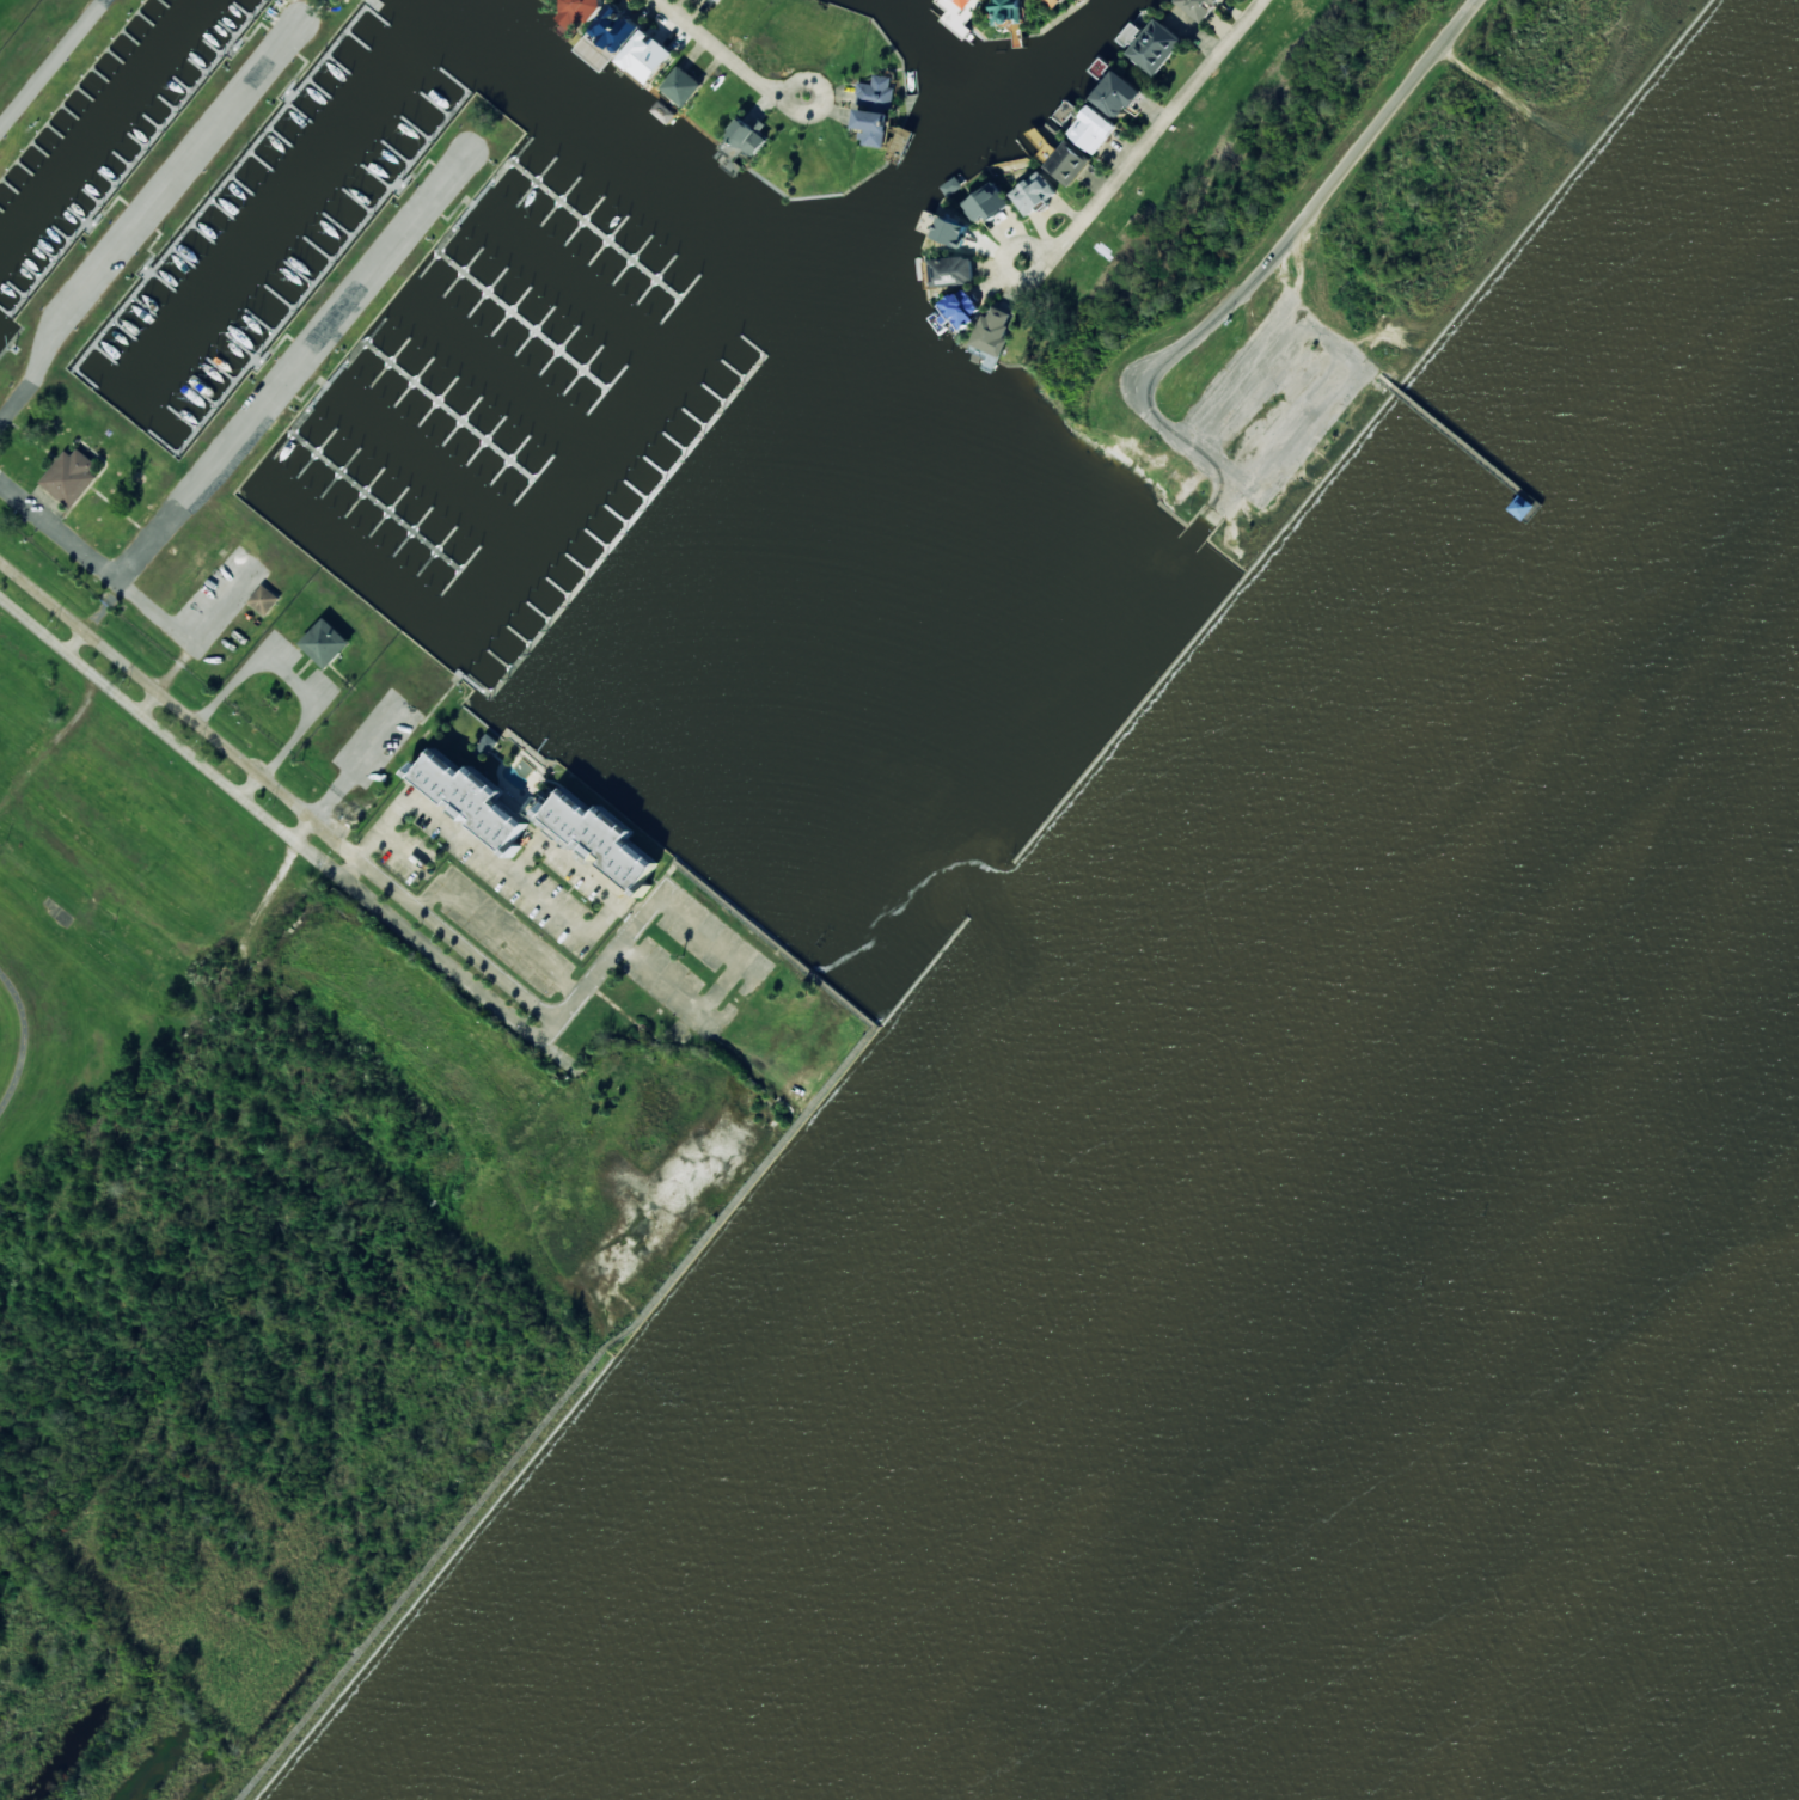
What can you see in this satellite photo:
building: (714, 0)
building: (966, 2)
building: (1055, 2)
building: (580, 11)
building: (1008, 12)
building: (1156, 47)
road: (728, 53)
building: (648, 56)
building: (683, 86)
road: (718, 92)
building: (1120, 94)
building: (875, 110)
building: (1094, 129)
building: (747, 137)
building: (1042, 145)
road: (1145, 147)
building: (1067, 163)
road: (139, 191)
building: (1034, 192)
building: (987, 203)
road: (1312, 208)
road: (1021, 229)
building: (951, 270)
building: (962, 307)
building: (993, 331)
road: (1061, 365)
road: (235, 396)
building: (71, 477)
building: (264, 600)
building: (326, 642)
road: (489, 782)
building: (471, 800)
building: (601, 839)
road: (610, 960)
road: (558, 1025)
road: (25, 1039)

